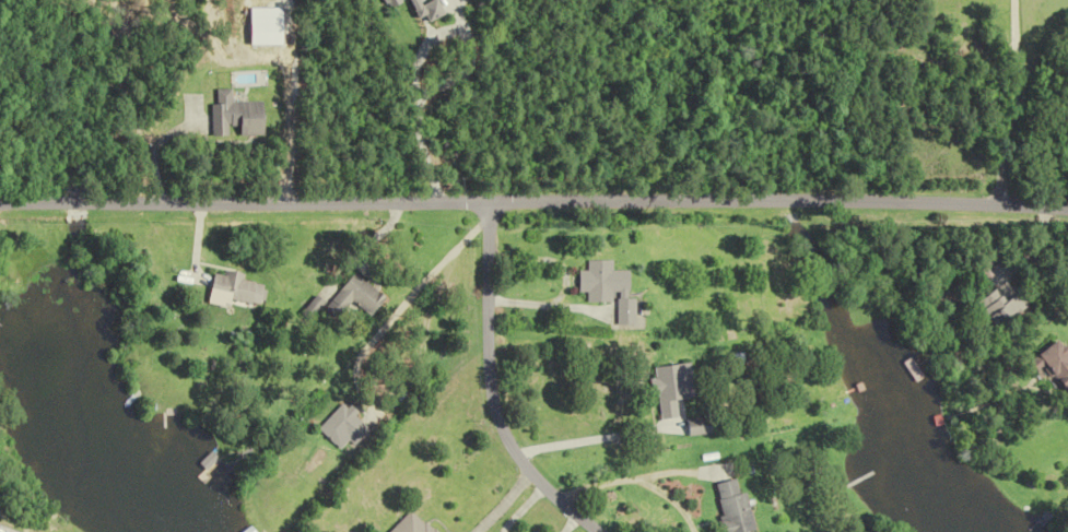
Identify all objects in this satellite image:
road: (414, 98)
road: (1018, 98)
building: (242, 115)
road: (533, 193)
building: (236, 286)
building: (611, 288)
building: (360, 297)
building: (994, 307)
building: (1046, 367)
road: (493, 385)
building: (672, 394)
building: (700, 425)
building: (345, 426)
building: (0, 497)
road: (504, 500)
building: (736, 507)
building: (412, 524)

